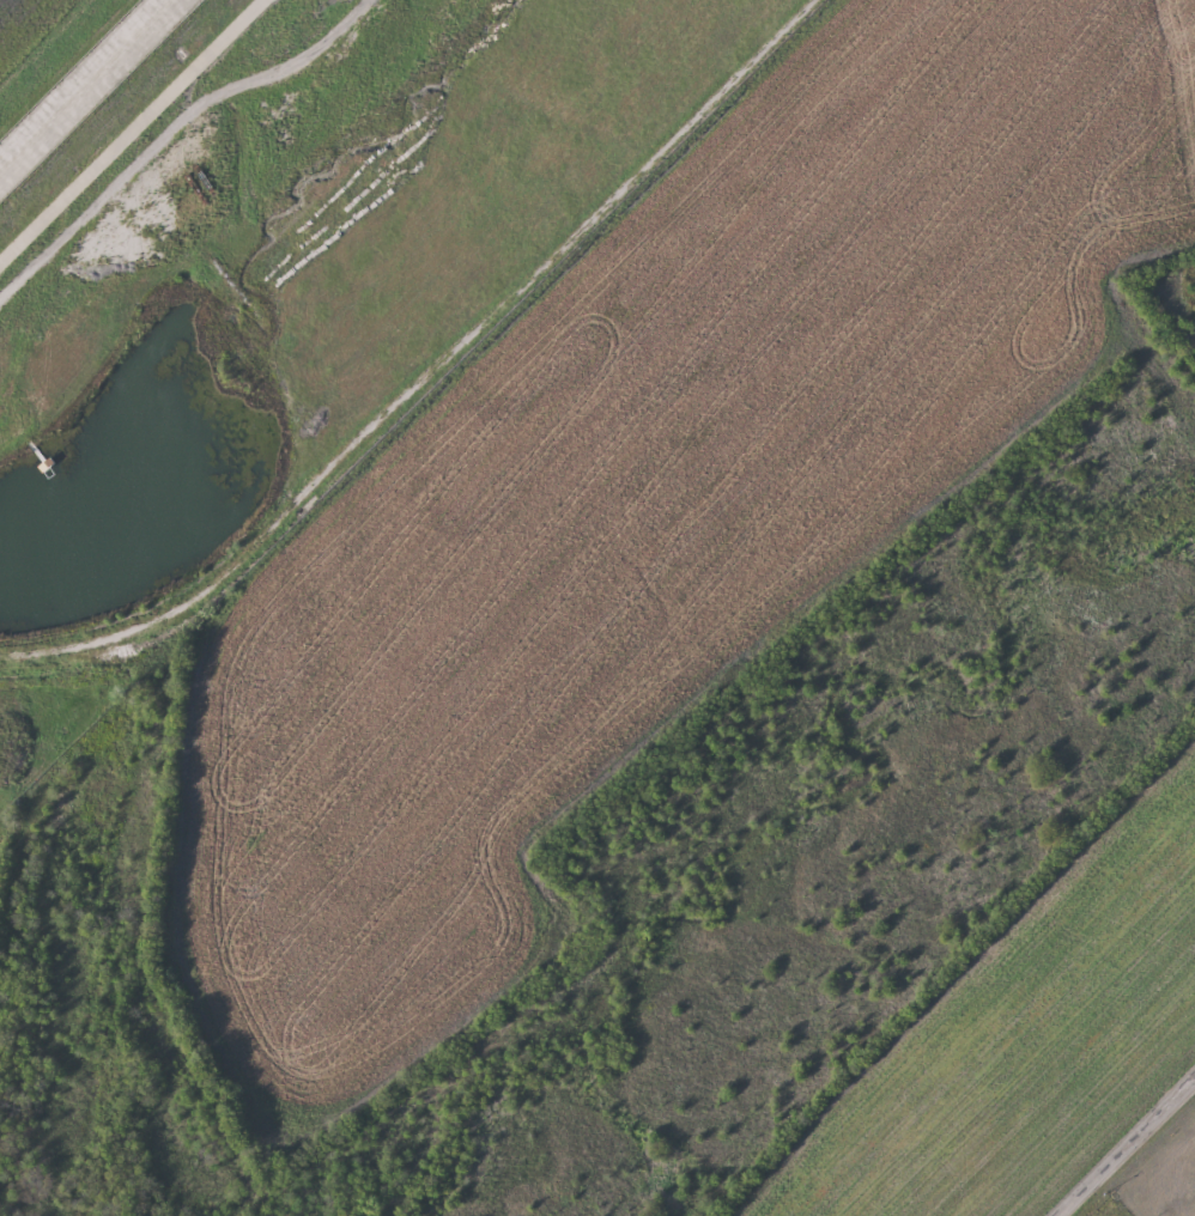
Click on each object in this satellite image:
road: (1127, 1147)

